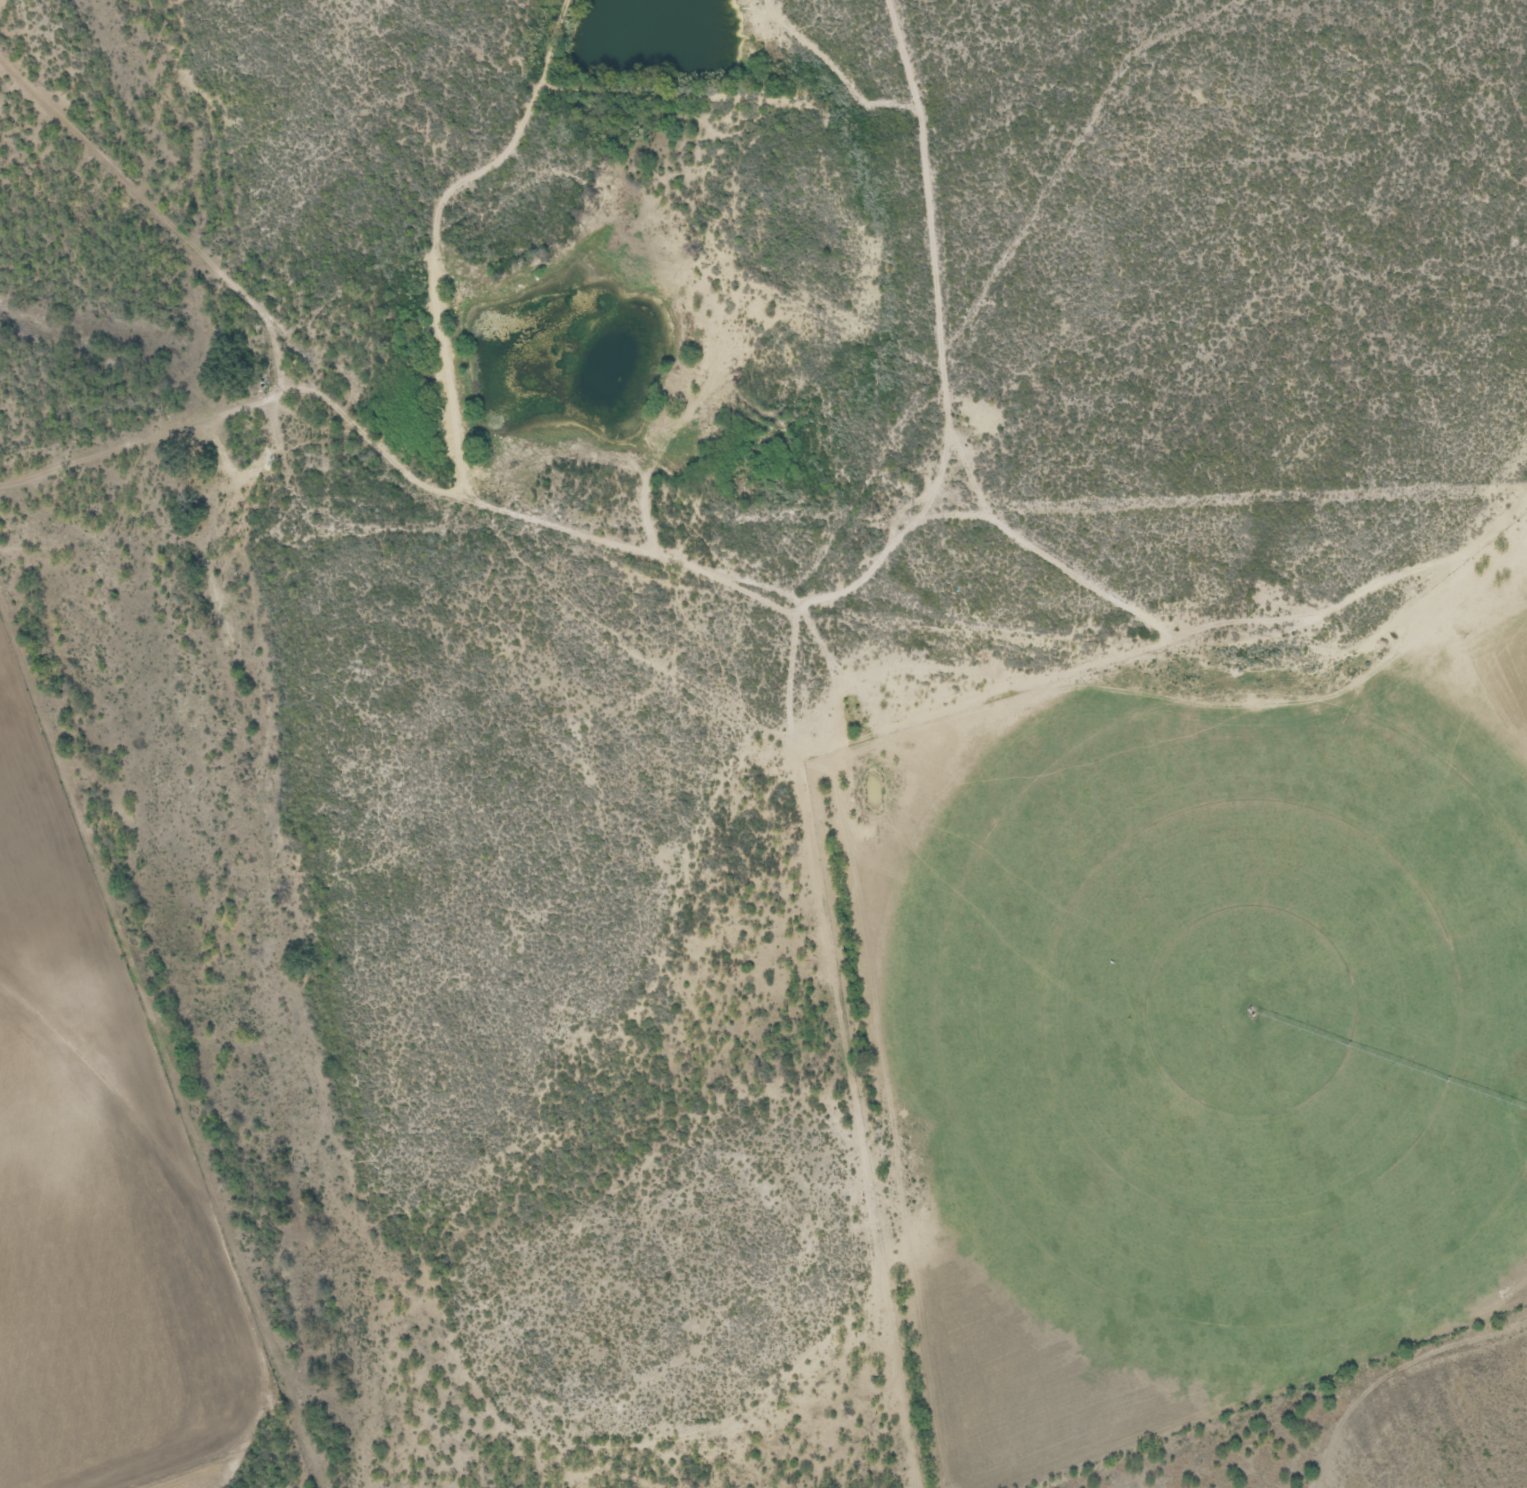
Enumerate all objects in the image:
road: (1474, 554)
road: (725, 577)
road: (664, 870)

